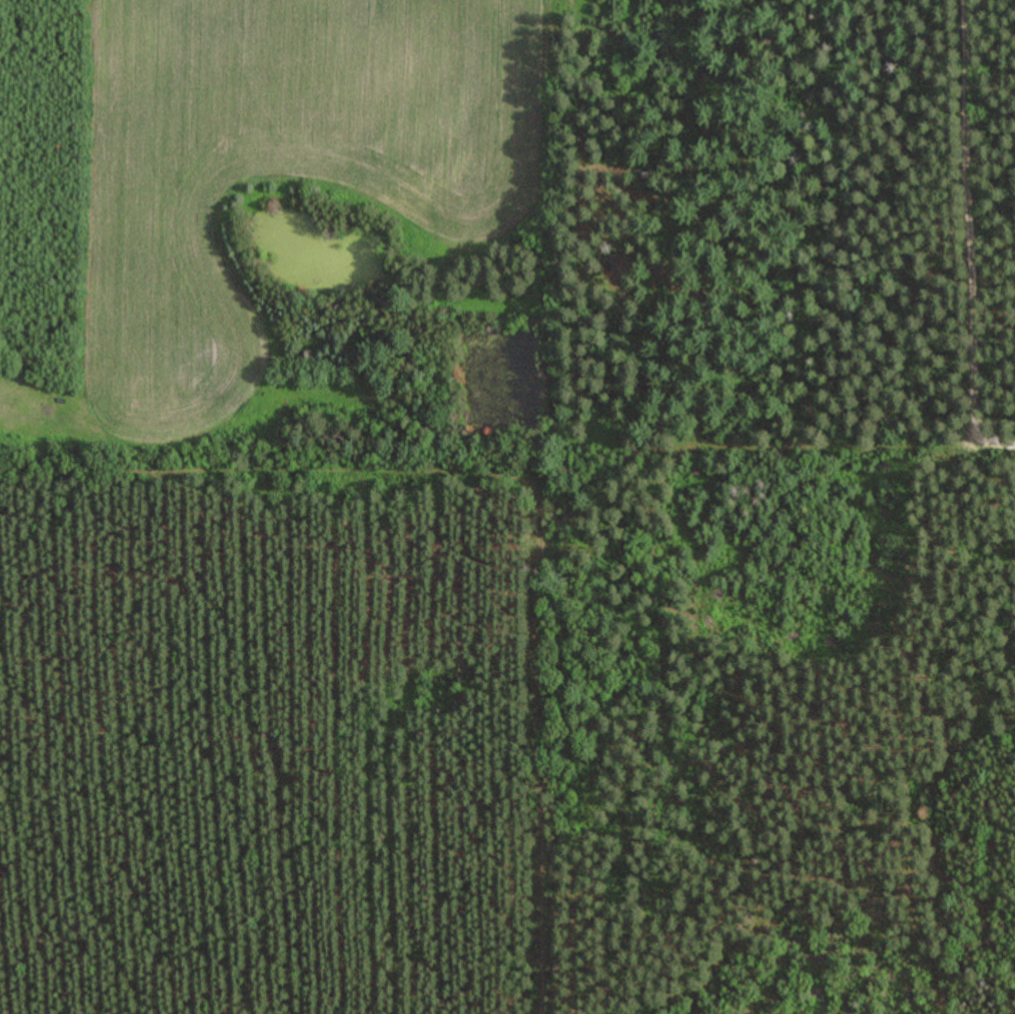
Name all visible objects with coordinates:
road: (684, 507)

